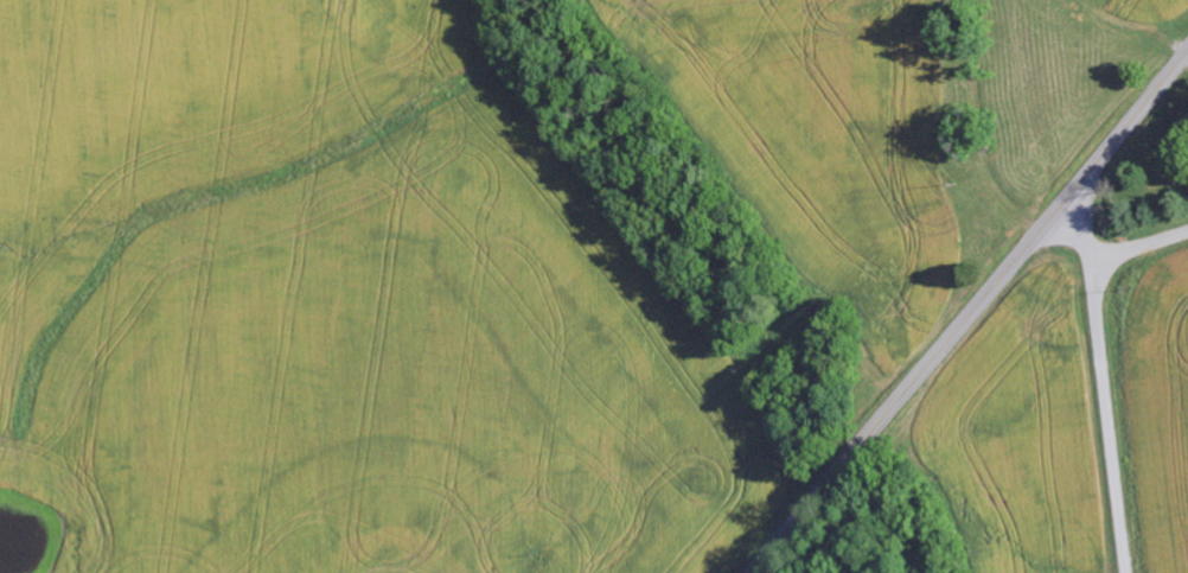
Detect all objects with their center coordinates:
road: (1139, 250)
road: (972, 312)
road: (1104, 377)

